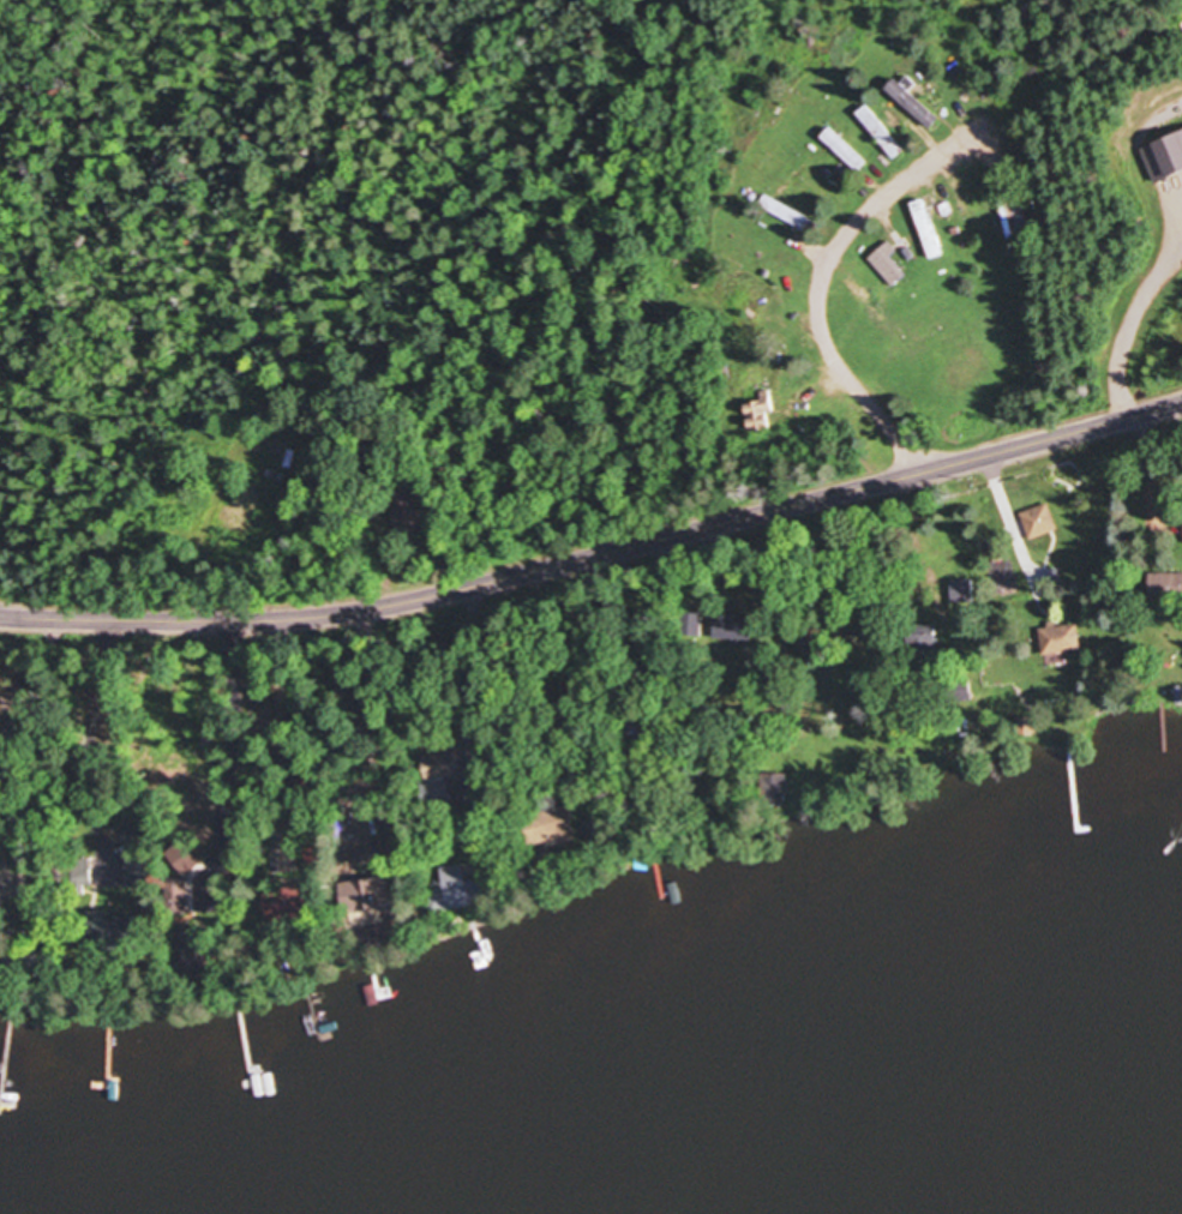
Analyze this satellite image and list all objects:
building: (914, 106)
building: (881, 134)
building: (844, 150)
building: (820, 186)
building: (965, 208)
building: (787, 215)
building: (1015, 216)
building: (889, 265)
road: (824, 287)
building: (760, 414)
building: (1040, 522)
road: (596, 553)
building: (1166, 589)
building: (965, 593)
building: (694, 625)
building: (736, 627)
building: (1061, 641)
building: (918, 644)
building: (443, 774)
building: (774, 789)
building: (360, 823)
building: (550, 827)
building: (83, 872)
building: (452, 890)
building: (176, 893)
building: (286, 905)
building: (364, 919)
building: (118, 930)
building: (199, 954)

